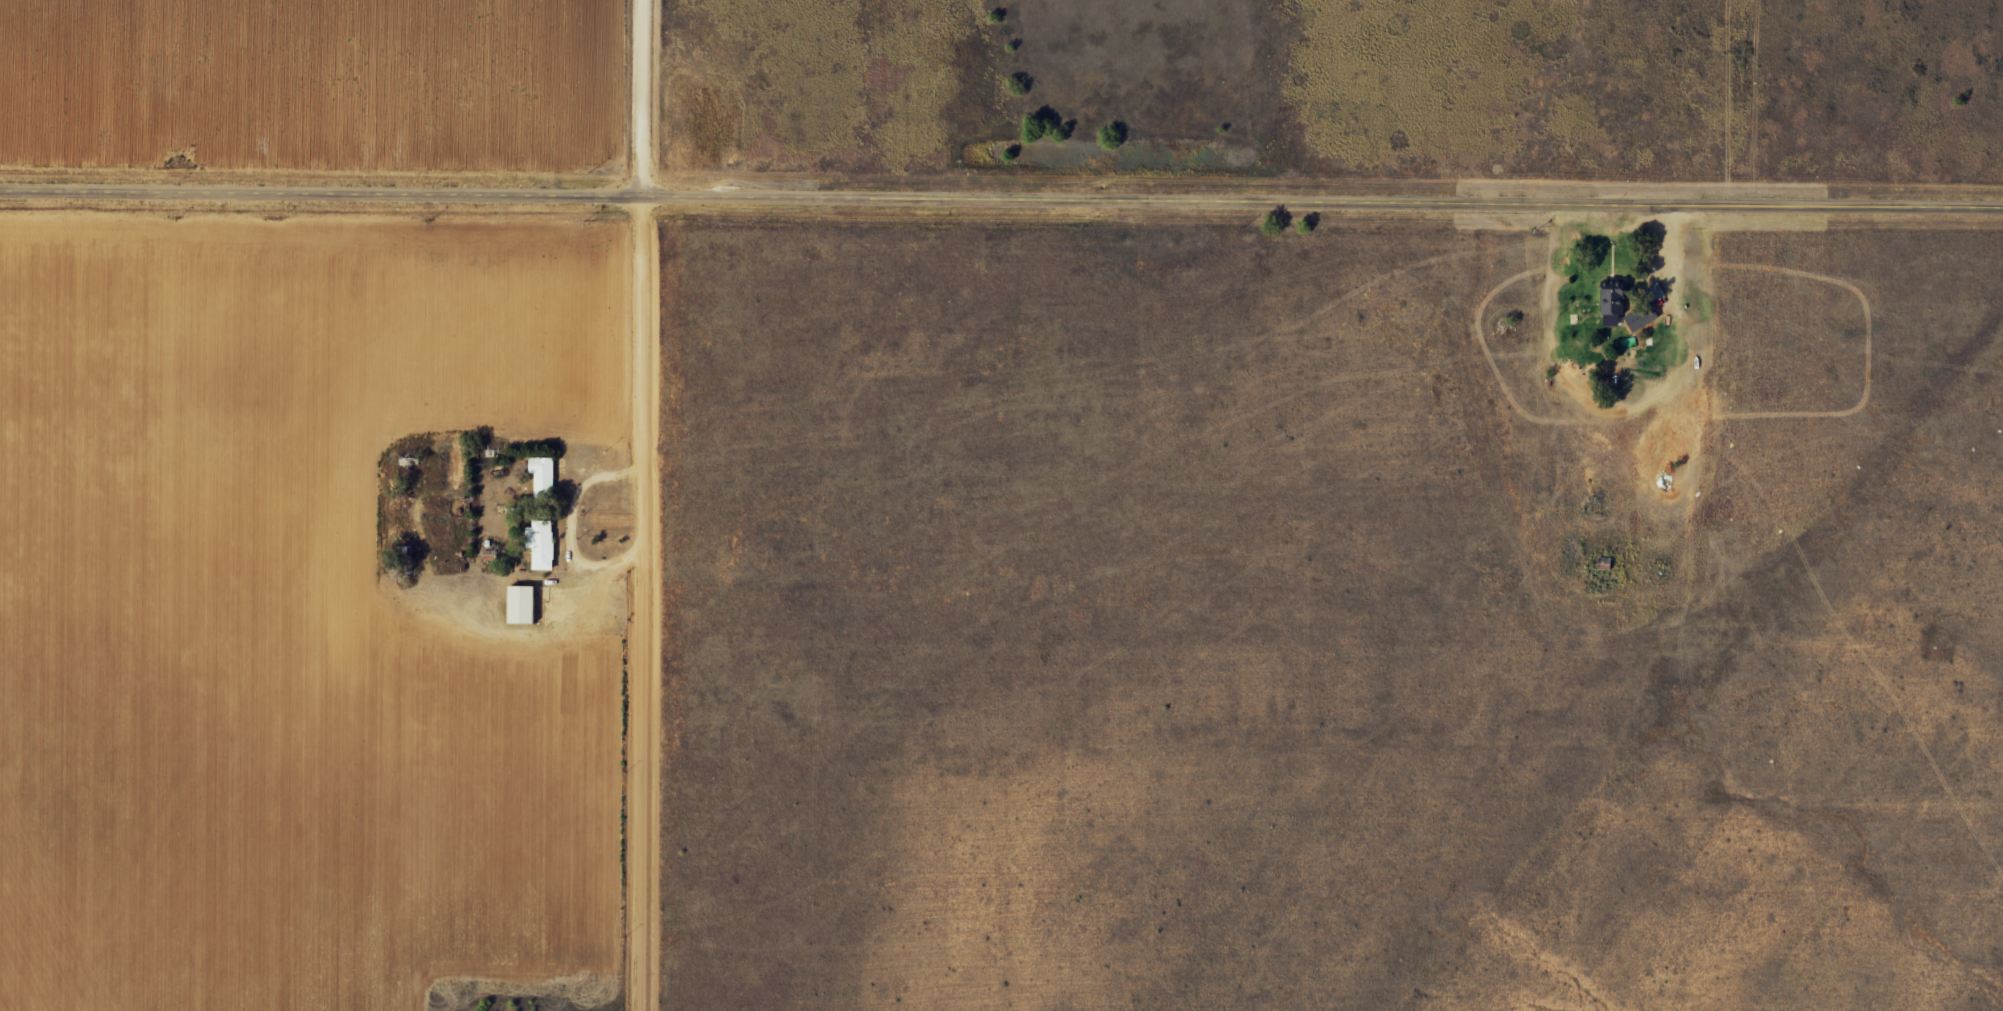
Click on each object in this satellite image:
road: (1001, 192)
building: (1607, 307)
building: (1639, 320)
building: (539, 477)
road: (644, 505)
road: (569, 524)
building: (539, 546)
building: (516, 606)

